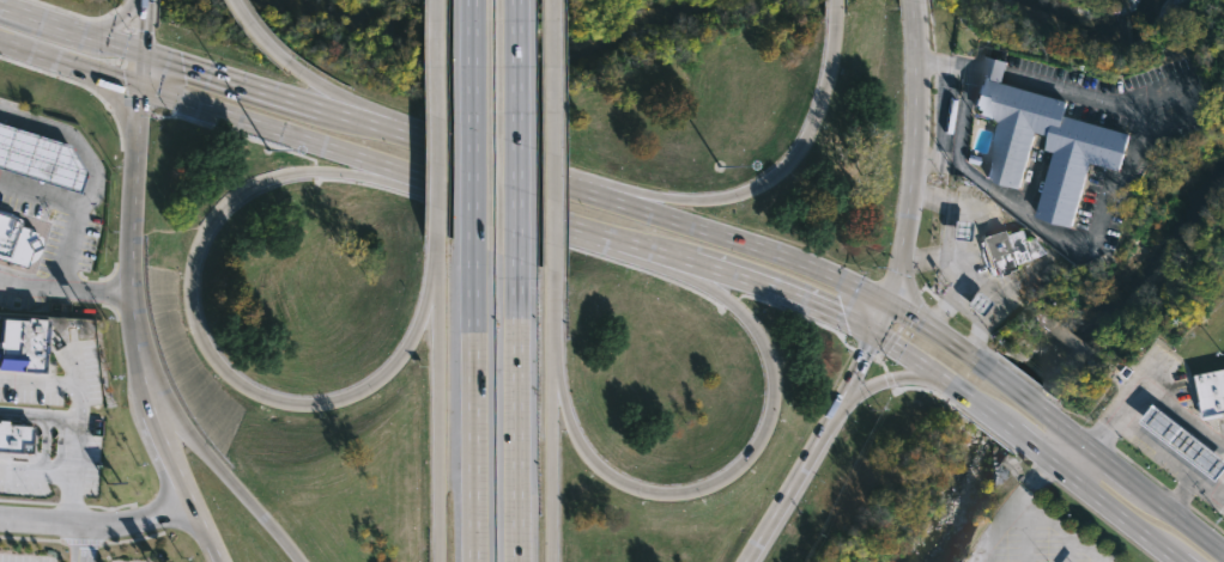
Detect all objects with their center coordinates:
road: (832, 2)
road: (40, 13)
road: (113, 24)
road: (144, 26)
road: (256, 32)
road: (111, 42)
traffic signals: (145, 53)
road: (72, 63)
road: (144, 69)
road: (231, 78)
traffic signals: (144, 87)
road: (329, 91)
road: (344, 111)
road: (434, 116)
road: (1140, 121)
road: (472, 123)
road: (516, 129)
road: (278, 130)
road: (552, 135)
road: (72, 136)
road: (429, 138)
road: (806, 139)
building: (1084, 143)
gas station: (37, 155)
road: (914, 169)
road: (382, 173)
road: (555, 178)
road: (450, 185)
road: (655, 200)
road: (570, 224)
building: (961, 231)
road: (134, 233)
road: (69, 234)
gas station: (16, 240)
road: (434, 240)
road: (926, 250)
building: (1011, 250)
road: (672, 256)
road: (963, 265)
road: (686, 271)
road: (823, 271)
road: (552, 279)
road: (95, 289)
road: (428, 289)
road: (786, 293)
road: (946, 297)
traffic signals: (887, 301)
road: (964, 310)
traffic signals: (877, 334)
road: (202, 335)
building: (22, 342)
road: (557, 356)
road: (929, 369)
road: (889, 378)
road: (62, 381)
road: (1144, 389)
building: (1212, 392)
road: (438, 404)
road: (474, 404)
road: (1024, 404)
road: (516, 410)
road: (170, 411)
road: (552, 423)
road: (992, 424)
building: (13, 435)
road: (1066, 436)
building: (1186, 438)
gas station: (1186, 438)
road: (69, 439)
road: (166, 442)
road: (1018, 445)
road: (814, 450)
road: (1167, 460)
road: (1074, 465)
road: (1047, 466)
road: (739, 468)
road: (34, 471)
road: (1110, 471)
road: (1206, 491)
road: (248, 500)
road: (1006, 509)
road: (1119, 520)
road: (98, 521)
road: (1180, 524)
road: (1061, 529)
road: (1025, 531)
road: (208, 532)
road: (84, 543)
road: (1068, 548)
road: (976, 550)

